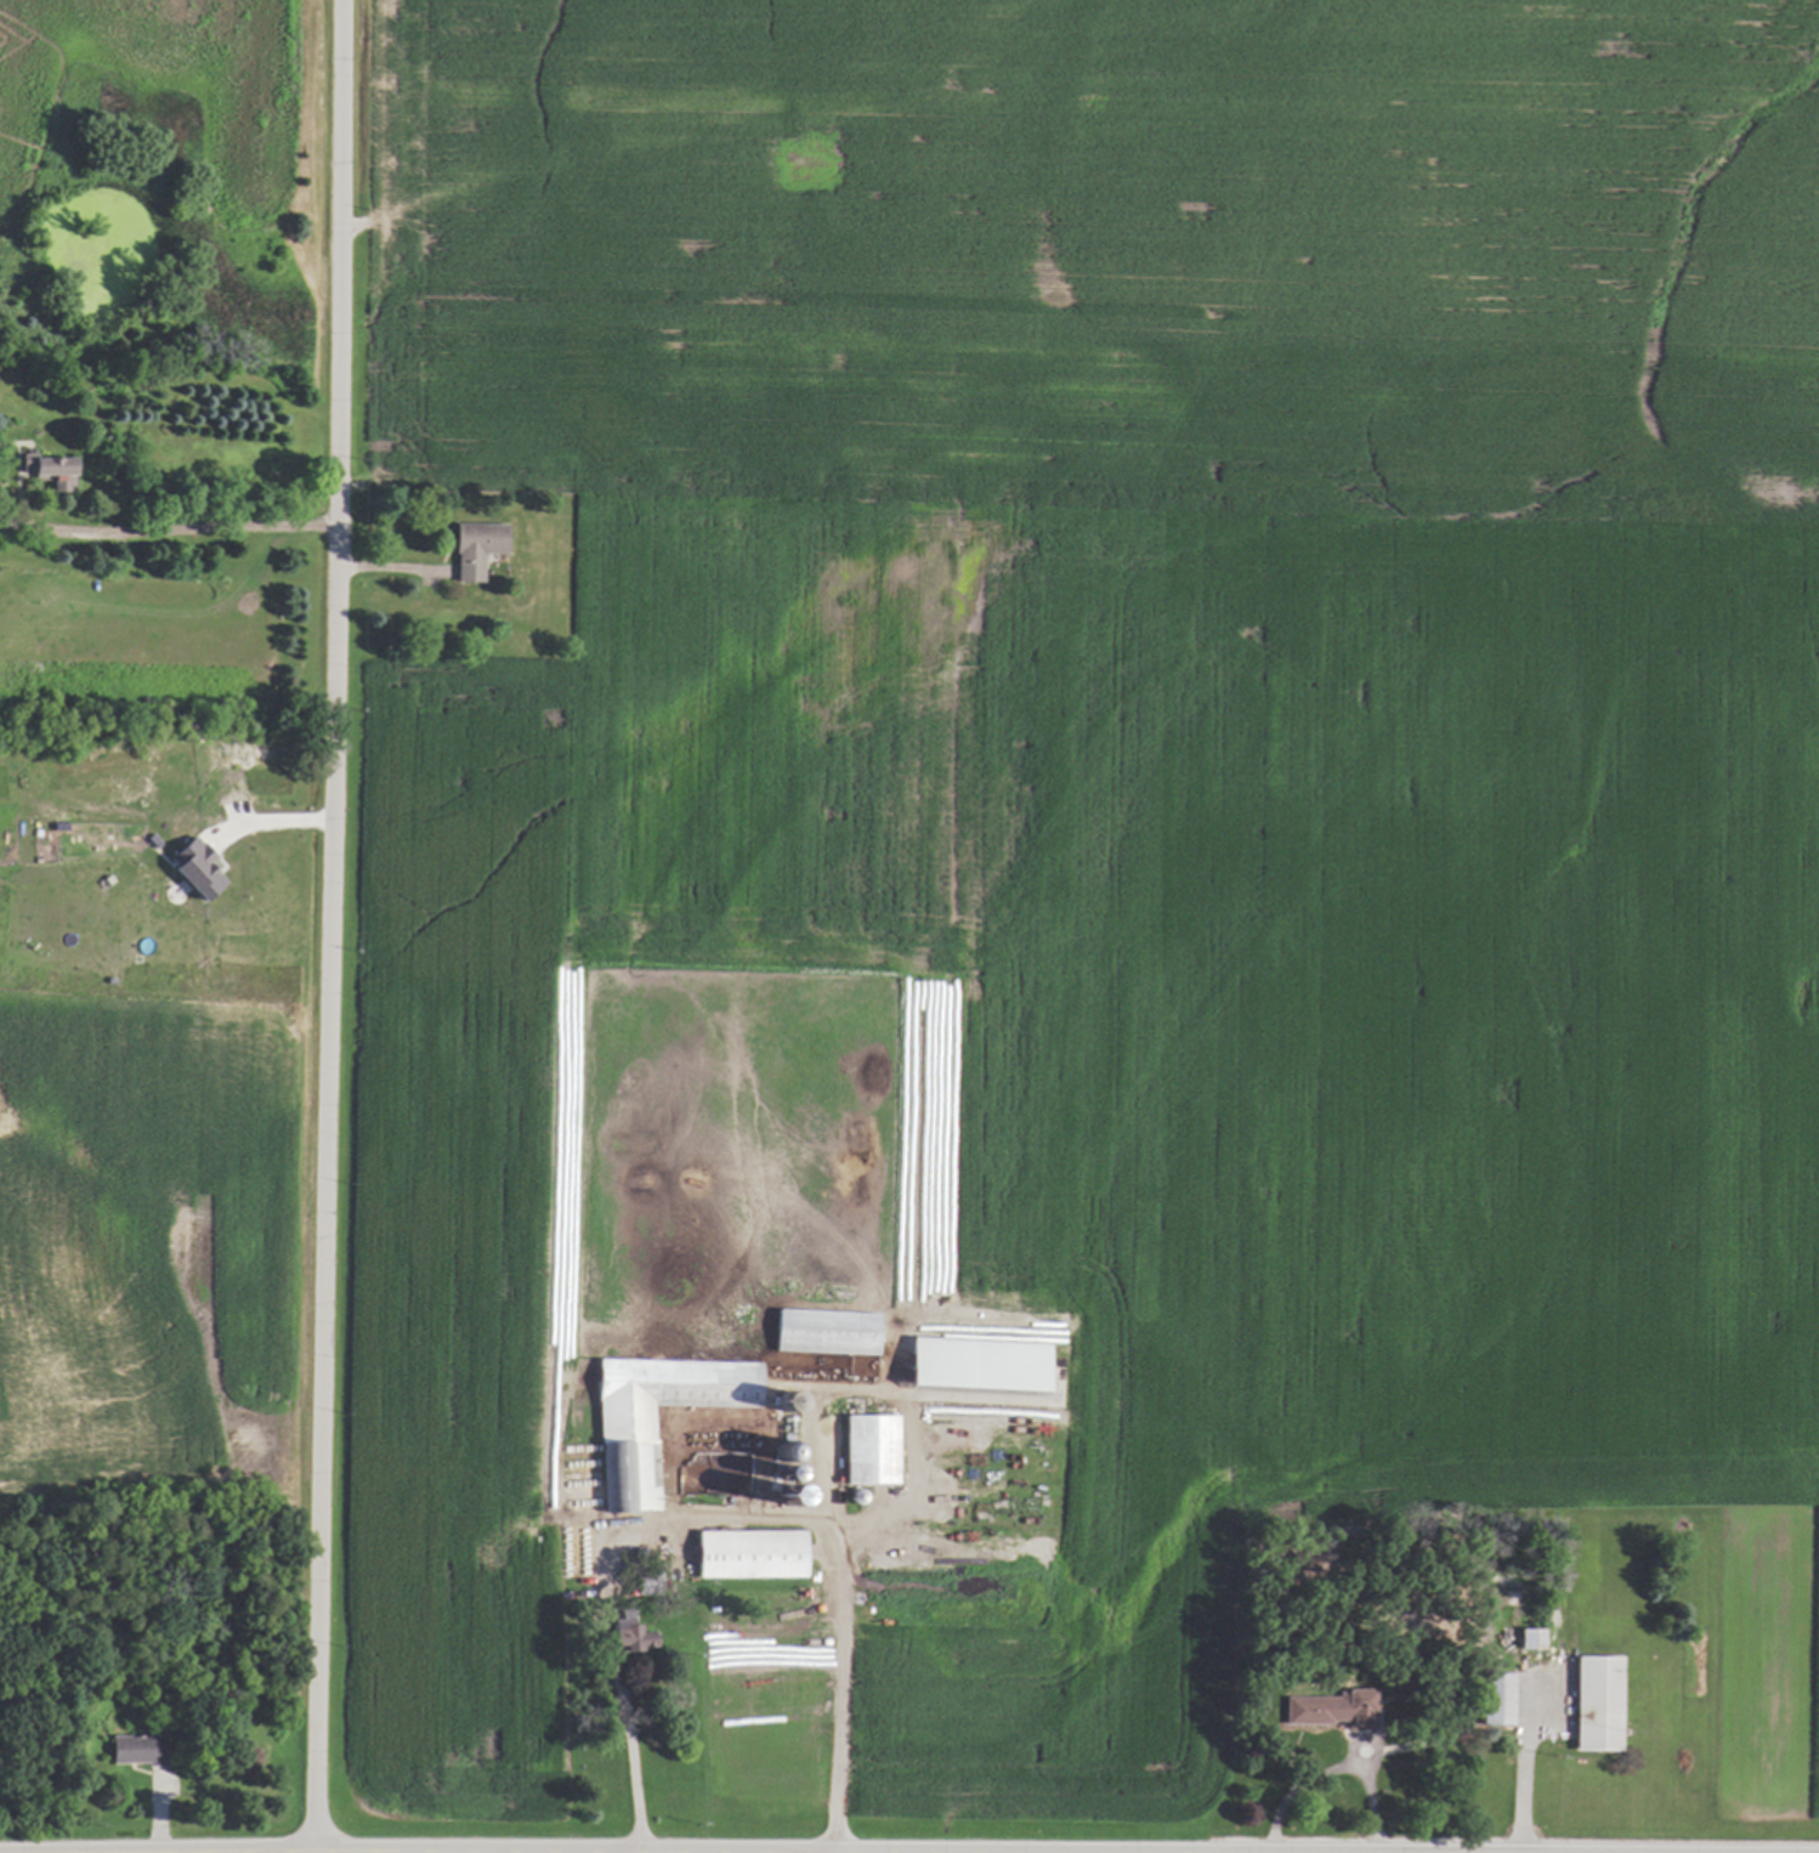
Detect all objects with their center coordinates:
building: (53, 472)
road: (166, 529)
building: (474, 549)
crop: (1099, 811)
building: (193, 867)
road: (328, 925)
crop: (147, 1251)
building: (823, 1331)
building: (974, 1362)
building: (651, 1417)
building: (868, 1449)
building: (748, 1553)
road: (602, 1574)
building: (625, 1634)
building: (1529, 1638)
road: (841, 1689)
building: (1495, 1698)
building: (1596, 1702)
building: (1328, 1707)
building: (134, 1749)
road: (1523, 1761)
road: (1294, 1784)
road: (1370, 1792)

